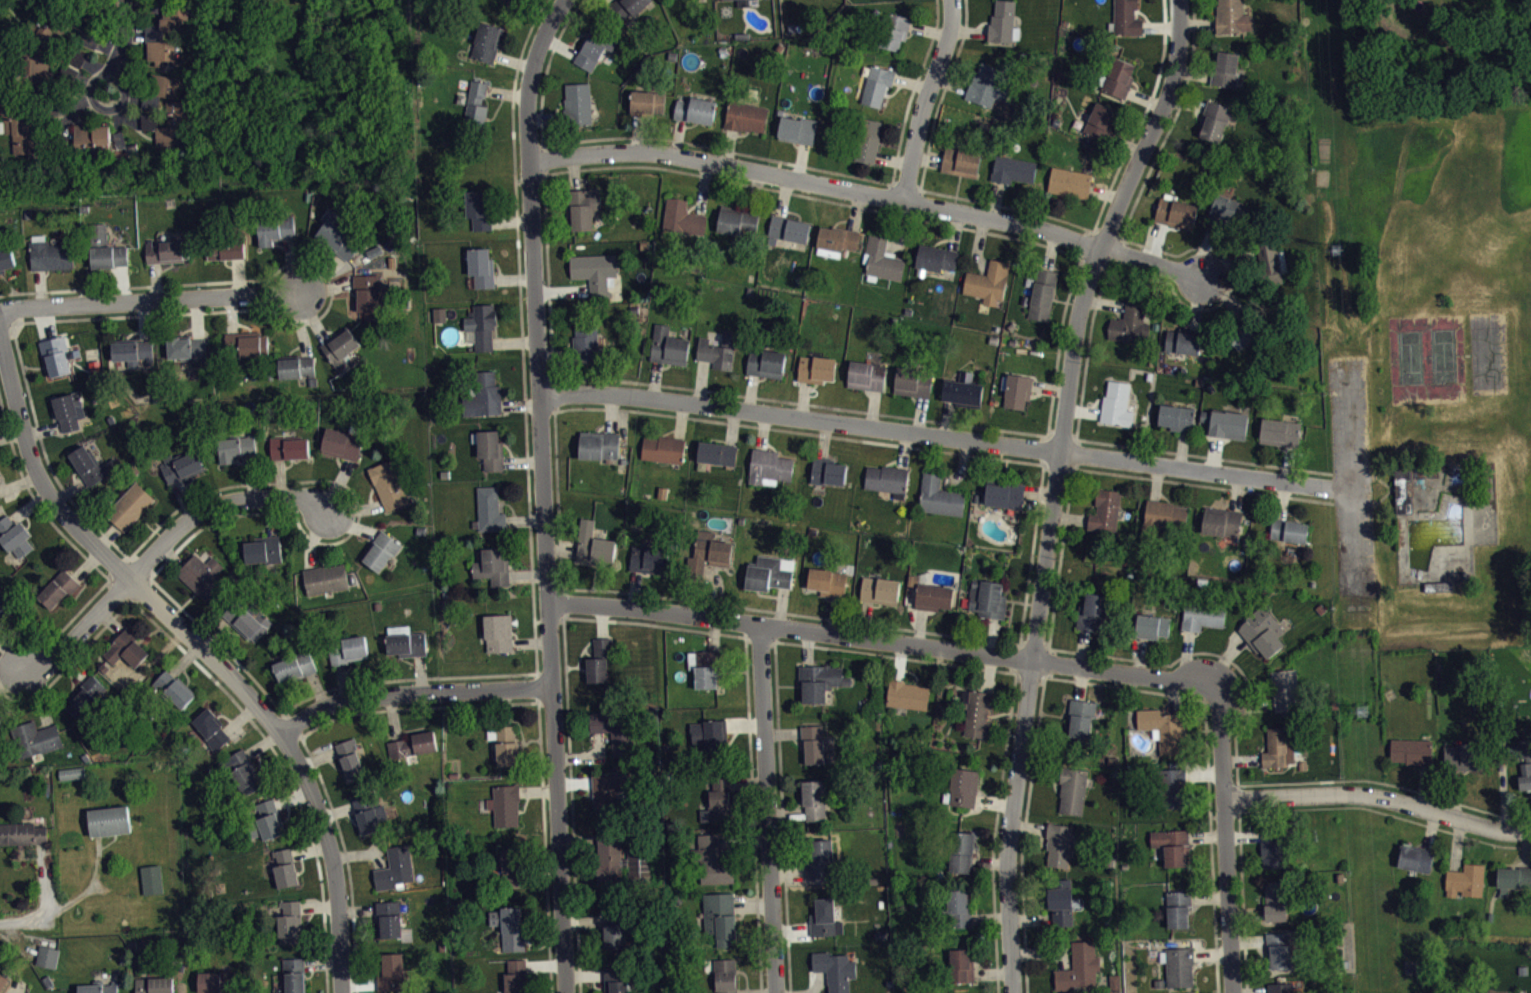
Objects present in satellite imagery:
building: (792, 0)
building: (688, 1)
building: (744, 1)
building: (514, 2)
building: (626, 8)
building: (1232, 17)
building: (1125, 18)
building: (1003, 22)
building: (177, 24)
building: (895, 30)
building: (486, 41)
road: (119, 44)
building: (595, 46)
building: (163, 56)
building: (44, 69)
building: (1225, 69)
building: (1117, 77)
building: (991, 84)
building: (876, 85)
building: (168, 91)
road: (925, 100)
building: (577, 103)
building: (647, 103)
building: (476, 106)
building: (695, 110)
building: (745, 116)
building: (1214, 120)
building: (1100, 121)
building: (797, 129)
building: (170, 130)
building: (867, 139)
building: (92, 142)
building: (961, 161)
building: (1013, 169)
building: (1070, 182)
road: (868, 194)
building: (583, 206)
building: (1228, 209)
building: (478, 210)
building: (1175, 212)
building: (682, 217)
building: (737, 222)
building: (274, 229)
building: (787, 229)
building: (837, 238)
building: (339, 239)
building: (105, 248)
building: (169, 249)
building: (225, 249)
power tower: (1335, 251)
building: (50, 254)
building: (6, 257)
building: (936, 258)
building: (881, 260)
building: (1271, 263)
building: (482, 266)
building: (594, 273)
building: (987, 282)
building: (365, 291)
building: (1042, 294)
road: (149, 298)
building: (442, 320)
building: (1129, 323)
building: (482, 325)
building: (1248, 330)
building: (1183, 340)
building: (585, 341)
building: (248, 343)
building: (668, 346)
building: (187, 349)
building: (341, 349)
building: (132, 350)
building: (718, 350)
park: (1443, 354)
building: (55, 355)
park: (1410, 356)
building: (765, 362)
building: (296, 367)
building: (816, 369)
building: (866, 375)
building: (913, 381)
building: (963, 390)
building: (1016, 390)
building: (483, 395)
building: (1116, 404)
building: (70, 411)
building: (1176, 417)
building: (1225, 423)
building: (1280, 432)
road: (944, 436)
building: (342, 444)
building: (598, 445)
building: (235, 446)
building: (289, 447)
building: (663, 448)
building: (490, 449)
building: (716, 453)
building: (91, 465)
building: (181, 466)
building: (769, 467)
road: (1351, 471)
building: (827, 472)
parking lot: (1352, 473)
building: (887, 479)
building: (389, 483)
road: (1054, 487)
building: (1402, 490)
road: (542, 492)
building: (1004, 494)
building: (939, 496)
building: (0, 504)
building: (129, 506)
building: (490, 507)
building: (1105, 509)
building: (1161, 518)
building: (1221, 521)
building: (1289, 530)
building: (14, 536)
building: (594, 543)
building: (263, 547)
road: (154, 548)
building: (381, 549)
building: (708, 552)
building: (648, 560)
building: (492, 564)
building: (770, 572)
building: (203, 574)
building: (325, 577)
building: (827, 582)
building: (1437, 586)
building: (58, 587)
building: (880, 590)
building: (933, 597)
building: (987, 599)
building: (5, 602)
building: (1093, 612)
building: (1201, 614)
building: (247, 617)
building: (1152, 625)
building: (497, 631)
building: (1262, 631)
building: (405, 640)
road: (884, 640)
building: (126, 647)
building: (347, 648)
road: (204, 655)
building: (599, 657)
building: (295, 664)
building: (704, 665)
building: (819, 679)
building: (173, 687)
building: (1285, 689)
road: (410, 690)
building: (85, 694)
building: (907, 694)
building: (977, 711)
power tower: (1359, 712)
building: (1080, 715)
building: (0, 719)
building: (211, 727)
building: (1164, 728)
building: (613, 729)
building: (0, 730)
building: (709, 734)
building: (35, 737)
building: (813, 742)
building: (413, 743)
building: (505, 744)
building: (1277, 746)
building: (1412, 749)
building: (1464, 755)
building: (350, 759)
building: (1525, 761)
building: (241, 770)
building: (72, 771)
building: (73, 779)
building: (1170, 784)
building: (962, 786)
building: (1072, 789)
building: (608, 790)
road: (1379, 796)
building: (814, 798)
building: (718, 799)
building: (505, 803)
road: (765, 808)
building: (369, 812)
building: (109, 818)
building: (267, 819)
building: (22, 831)
road: (1226, 841)
building: (1060, 843)
building: (1171, 844)
building: (1275, 846)
building: (962, 850)
building: (819, 856)
building: (1415, 856)
building: (621, 859)
building: (712, 859)
building: (508, 864)
building: (285, 866)
building: (395, 866)
building: (1513, 875)
building: (151, 877)
building: (1465, 879)
building: (1061, 899)
building: (1275, 899)
building: (959, 906)
building: (1177, 906)
building: (390, 916)
building: (719, 916)
building: (824, 916)
road: (23, 919)
building: (290, 919)
building: (509, 926)
building: (616, 928)
building: (132, 944)
building: (1279, 948)
building: (47, 955)
building: (124, 959)
building: (960, 964)
building: (1079, 965)
building: (1178, 965)
building: (1523, 968)
building: (835, 969)
building: (391, 970)
building: (294, 974)
building: (726, 974)
building: (516, 976)
building: (3, 979)
building: (47, 979)
building: (616, 979)
building: (216, 980)
building: (154, 984)
building: (98, 987)
building: (1280, 987)

